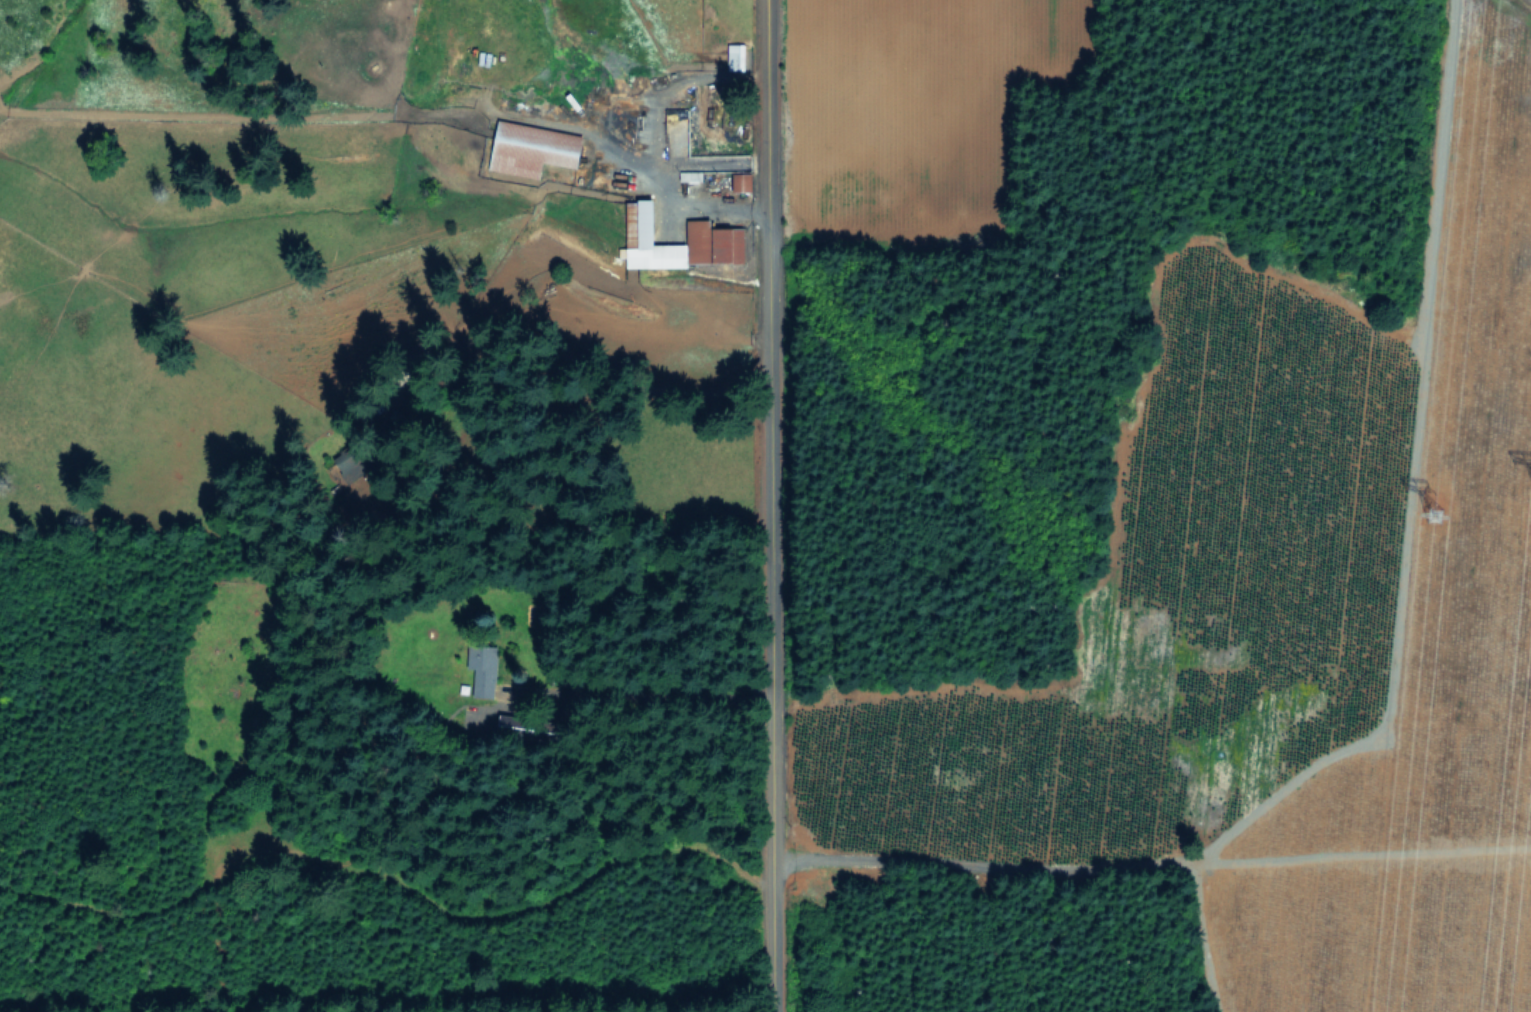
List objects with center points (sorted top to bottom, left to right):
building: (736, 55)
building: (533, 147)
building: (743, 180)
building: (717, 234)
road: (765, 356)
road: (1078, 360)
power tower: (1432, 502)
building: (483, 668)
road: (801, 683)
road: (639, 700)

